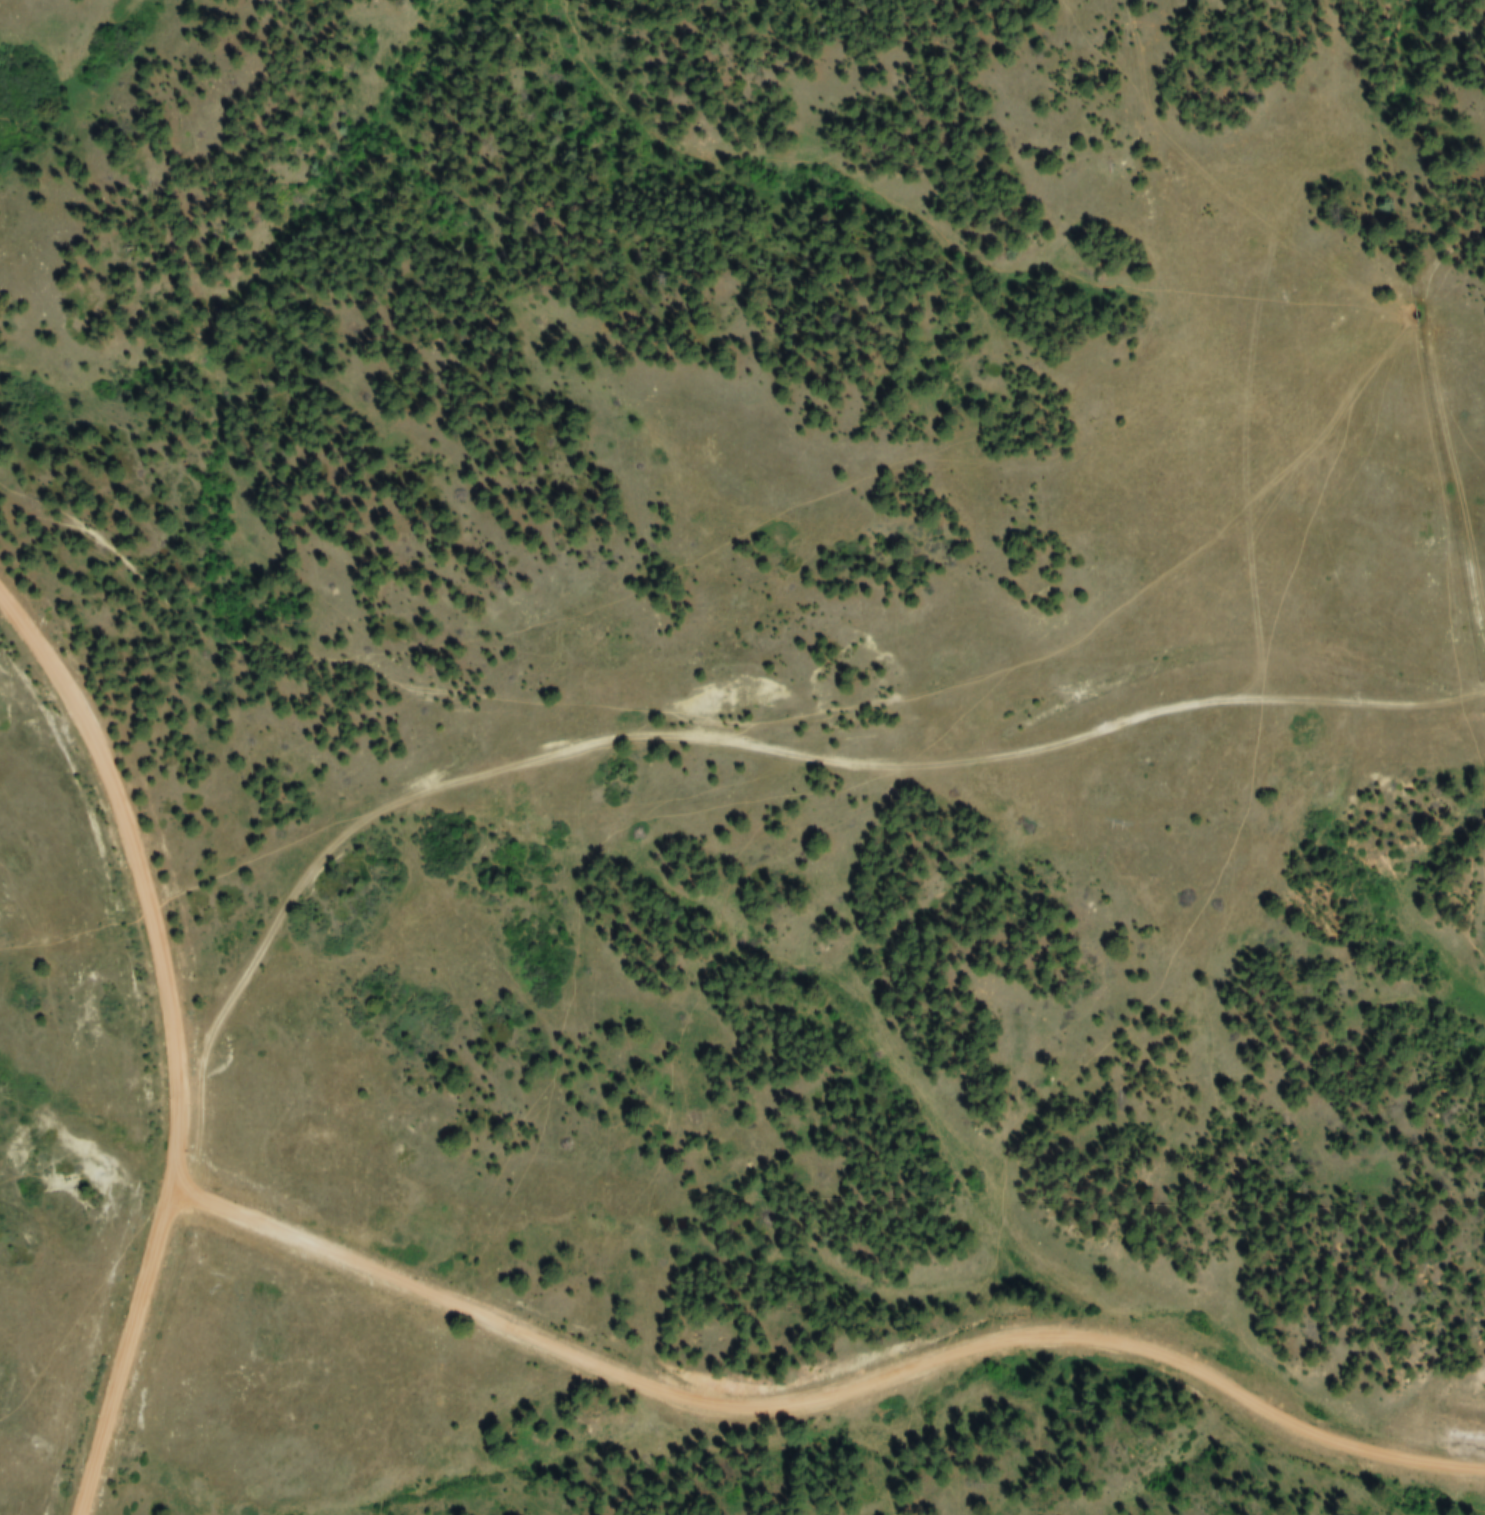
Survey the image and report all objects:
road: (1440, 422)
road: (754, 744)
road: (176, 1040)
road: (824, 1397)

